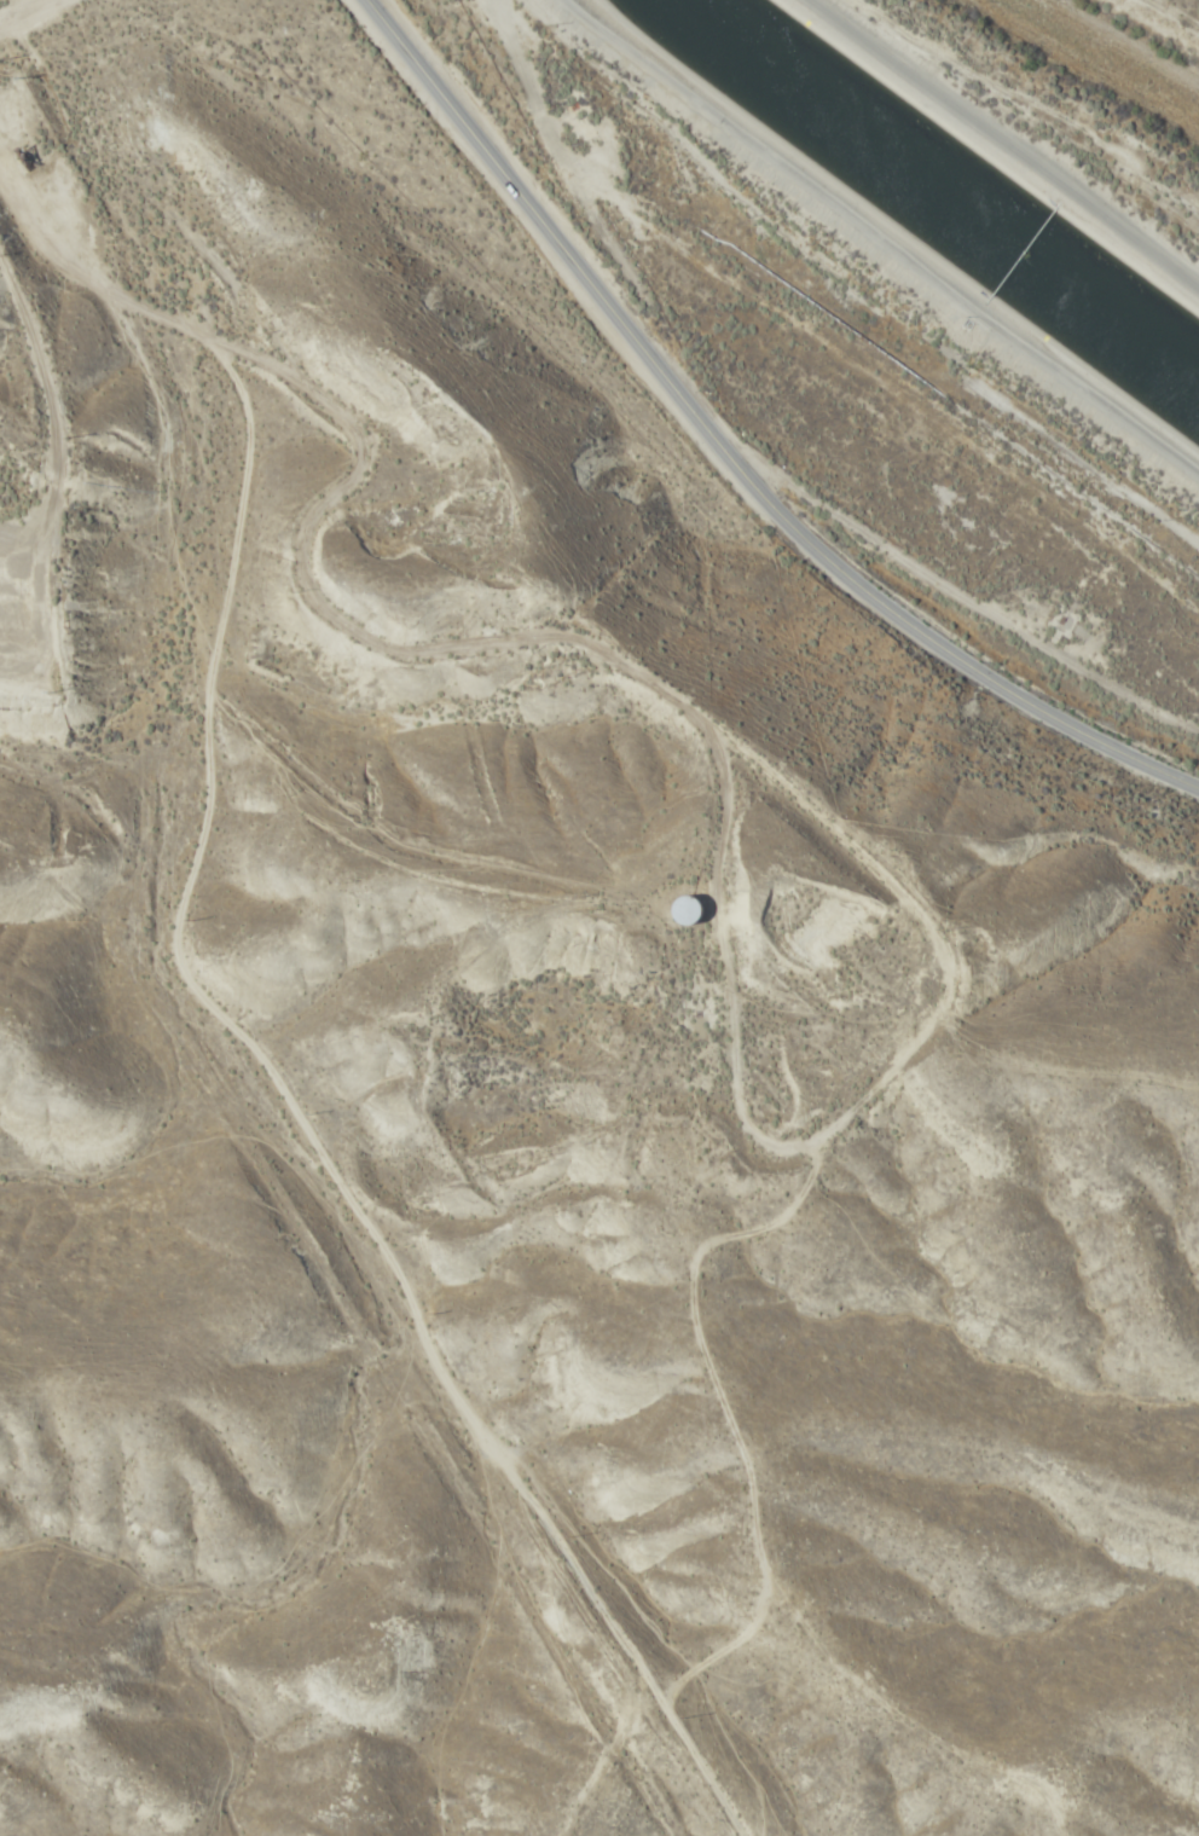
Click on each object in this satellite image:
road: (41, 15)
road: (1010, 135)
road: (879, 249)
road: (730, 451)
road: (1, 529)
road: (526, 635)
building: (687, 910)
road: (249, 955)
road: (757, 1125)

